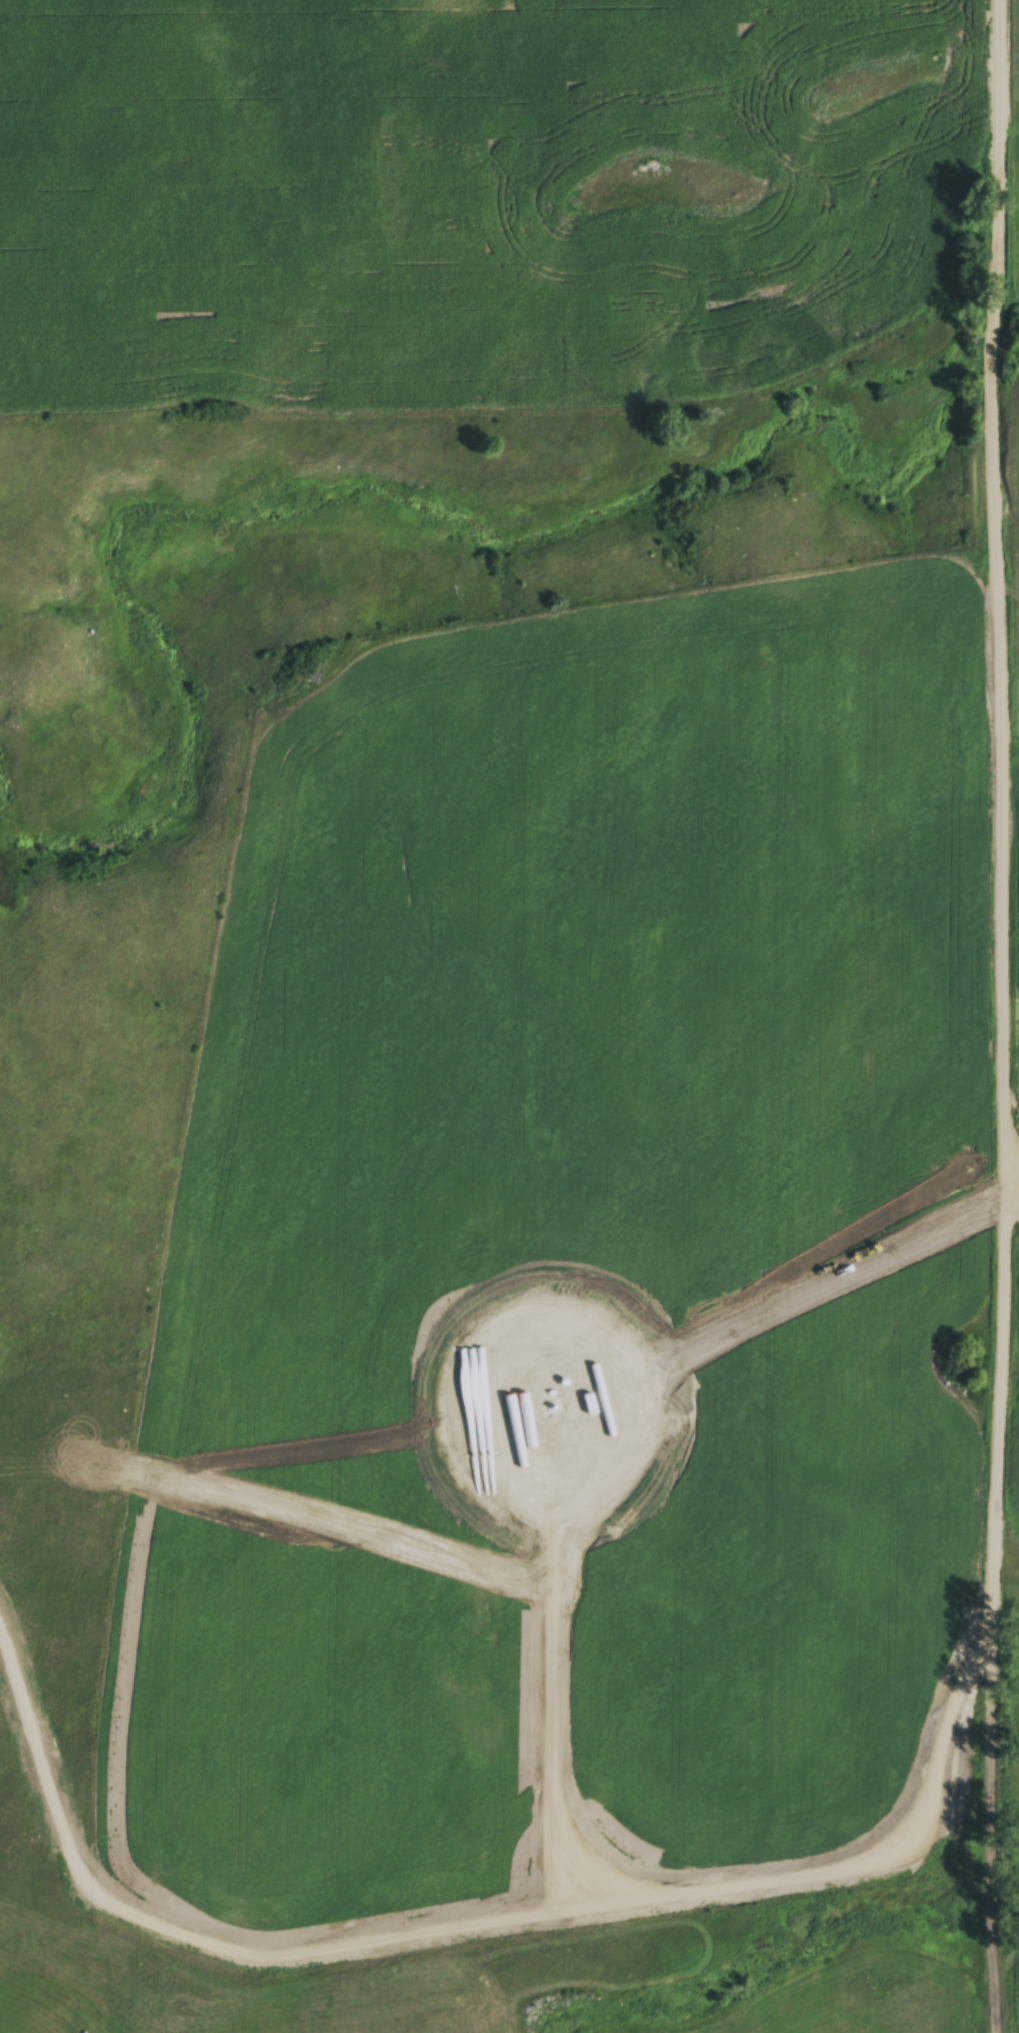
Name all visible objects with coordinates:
road: (1000, 1016)
wind turbine: (547, 1409)

